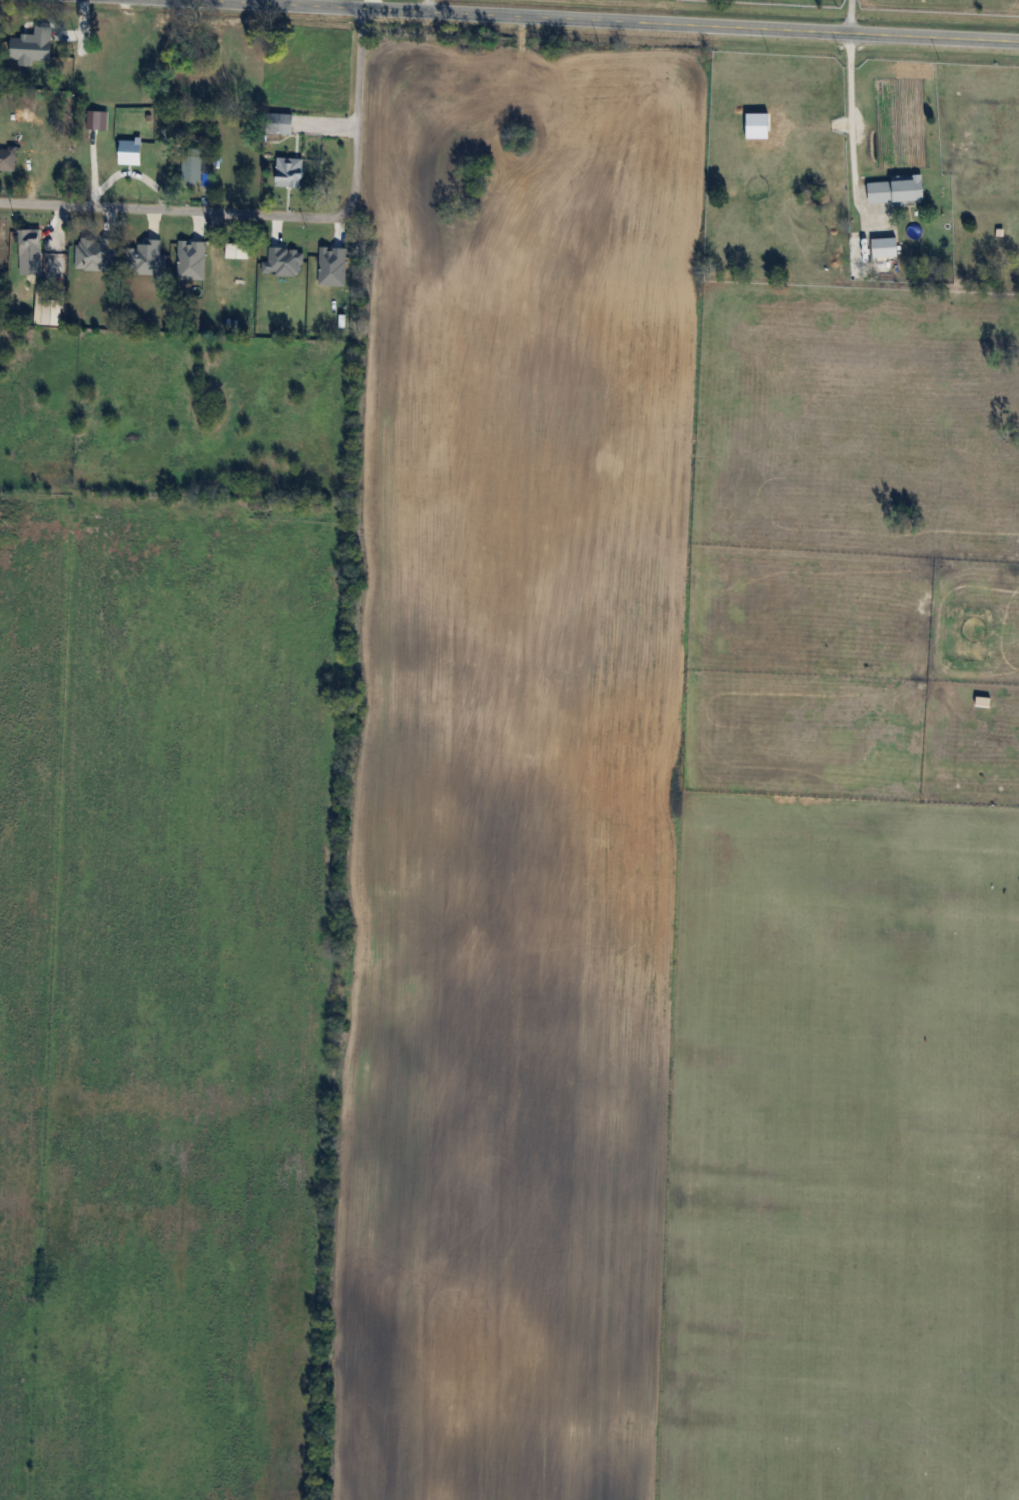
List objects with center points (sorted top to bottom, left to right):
road: (611, 20)
building: (165, 51)
road: (855, 104)
road: (357, 107)
building: (279, 123)
building: (8, 158)
building: (197, 164)
building: (51, 166)
building: (289, 172)
building: (898, 190)
road: (174, 209)
building: (30, 243)
building: (175, 247)
building: (885, 247)

